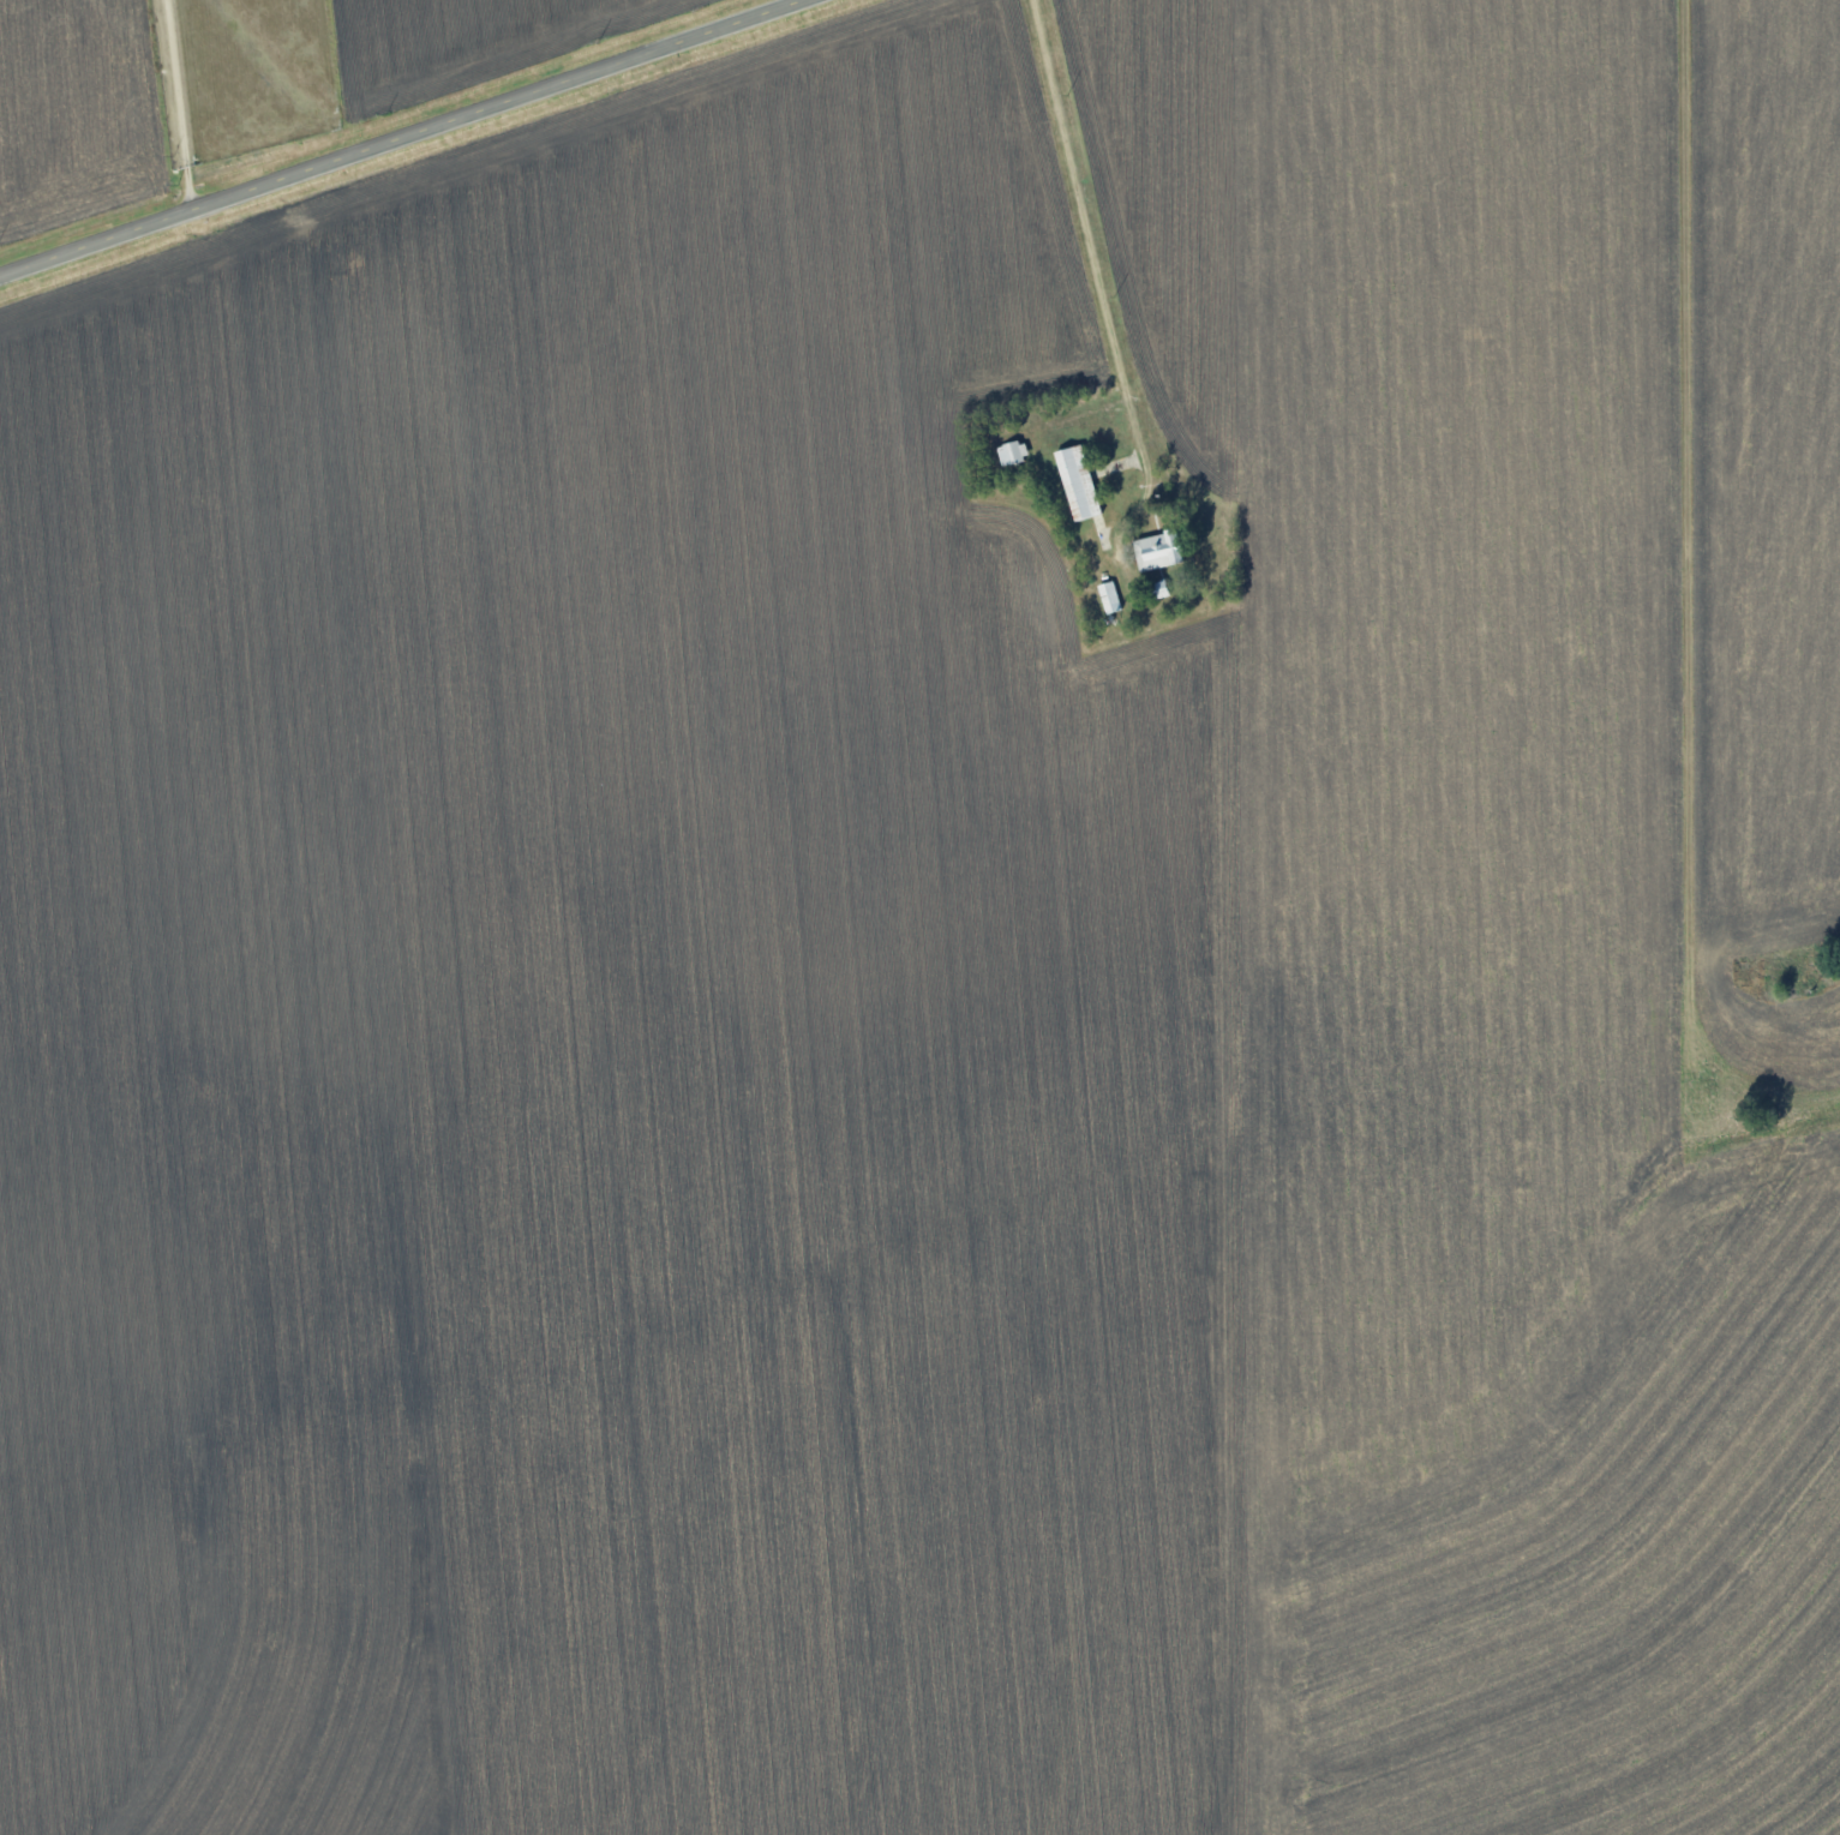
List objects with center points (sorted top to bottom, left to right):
road: (185, 106)
road: (403, 139)
road: (1080, 223)
building: (1077, 482)

